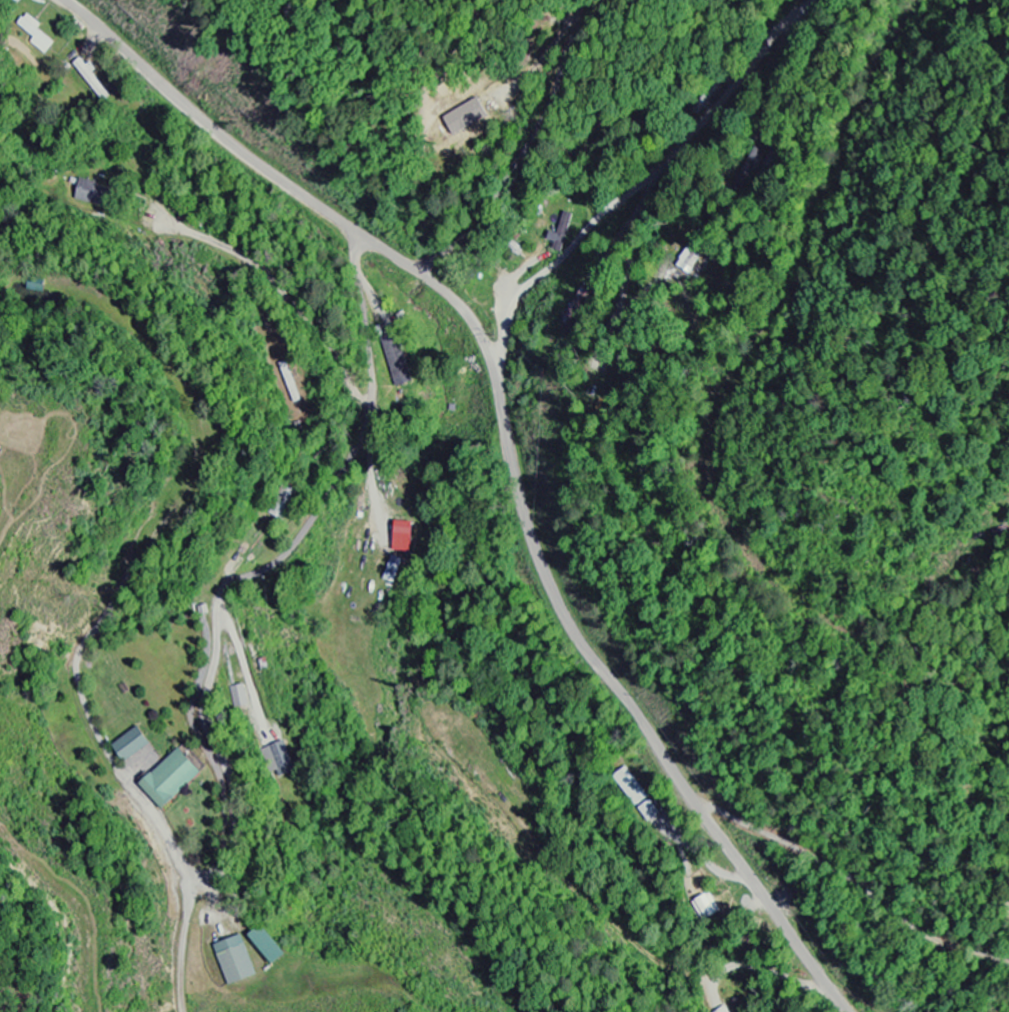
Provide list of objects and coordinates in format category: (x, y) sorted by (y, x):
building: (471, 116)
building: (95, 194)
road: (564, 252)
road: (298, 310)
building: (398, 363)
road: (517, 451)
building: (409, 538)
building: (396, 571)
building: (242, 694)
road: (201, 719)
building: (136, 743)
building: (281, 752)
building: (176, 778)
building: (272, 946)
building: (239, 960)
building: (722, 1010)

